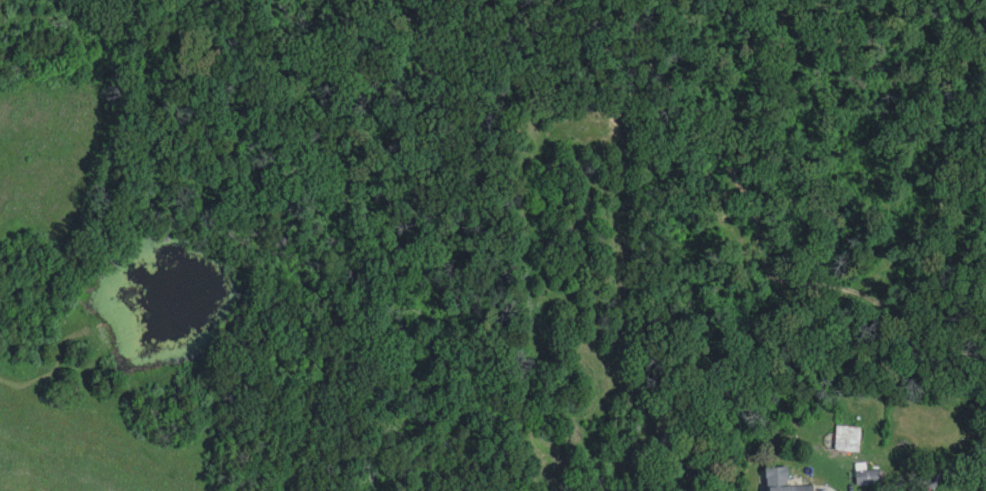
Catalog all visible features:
building: (848, 437)
building: (776, 479)

